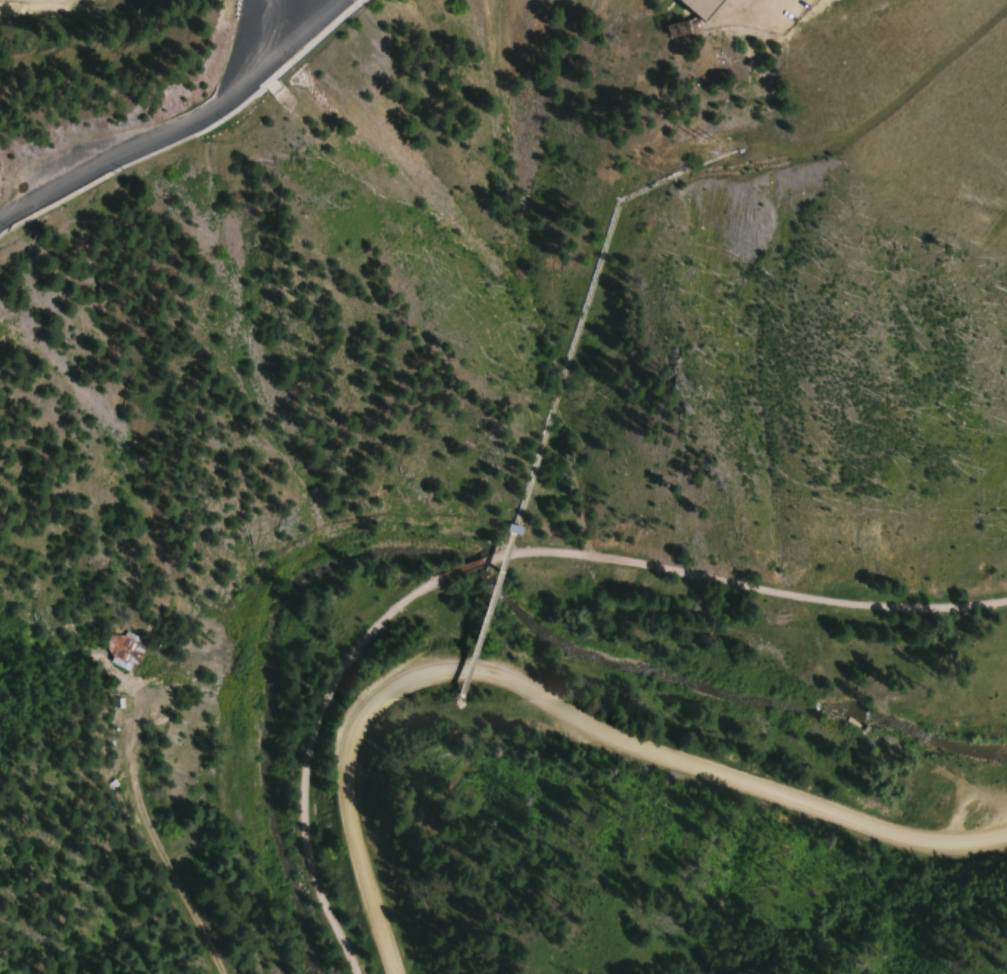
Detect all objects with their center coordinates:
building: (699, 6)
road: (316, 7)
road: (182, 123)
building: (513, 528)
road: (467, 566)
road: (747, 585)
building: (128, 651)
road: (556, 712)
road: (310, 752)

